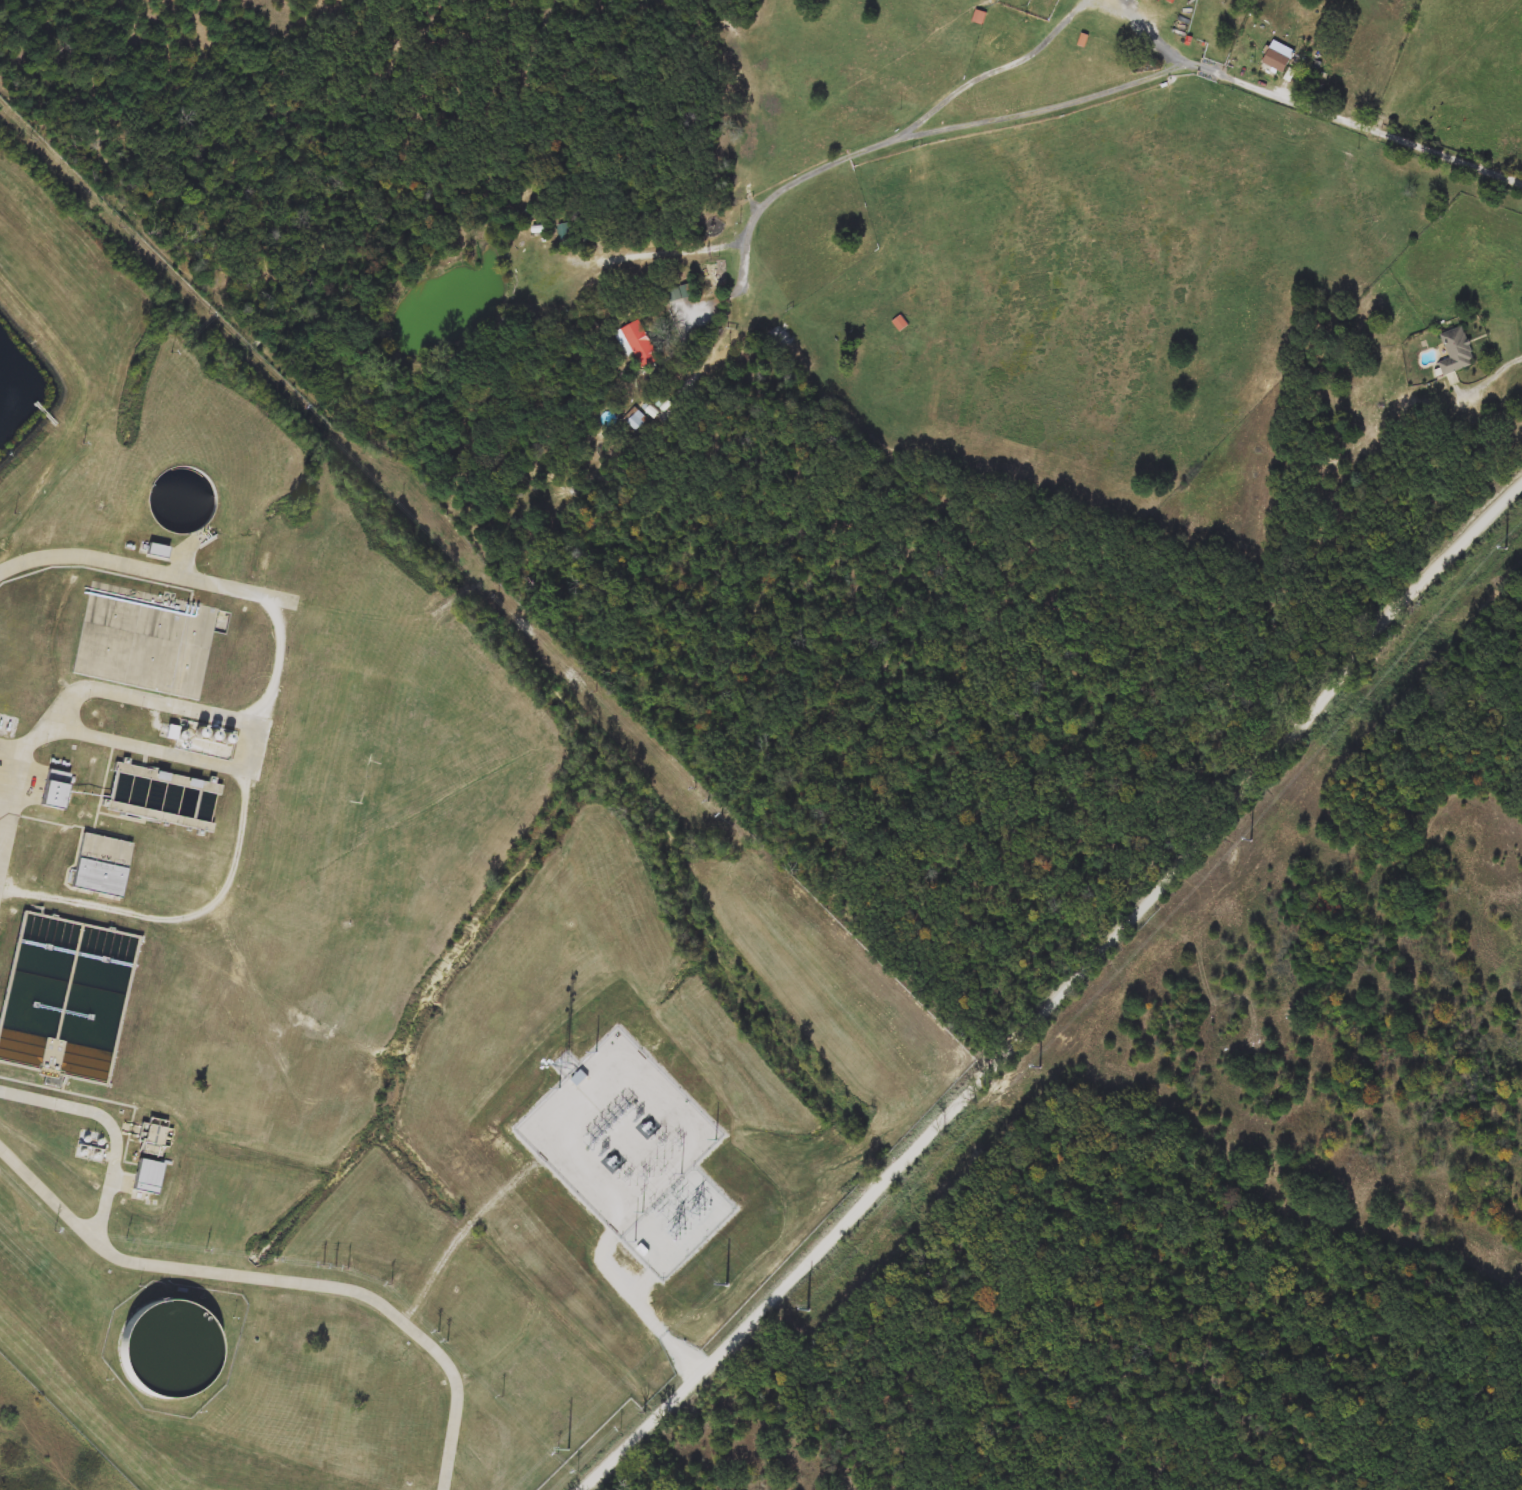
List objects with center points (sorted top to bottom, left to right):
road: (1050, 43)
building: (1278, 57)
road: (1056, 99)
road: (650, 253)
building: (900, 323)
building: (640, 344)
building: (1456, 352)
road: (1496, 375)
building: (634, 419)
building: (176, 505)
building: (156, 551)
road: (61, 556)
building: (51, 788)
building: (160, 797)
building: (100, 866)
road: (1069, 990)
building: (66, 998)
building: (578, 1078)
building: (152, 1136)
power substation: (631, 1151)
road: (279, 1279)
building: (165, 1350)

